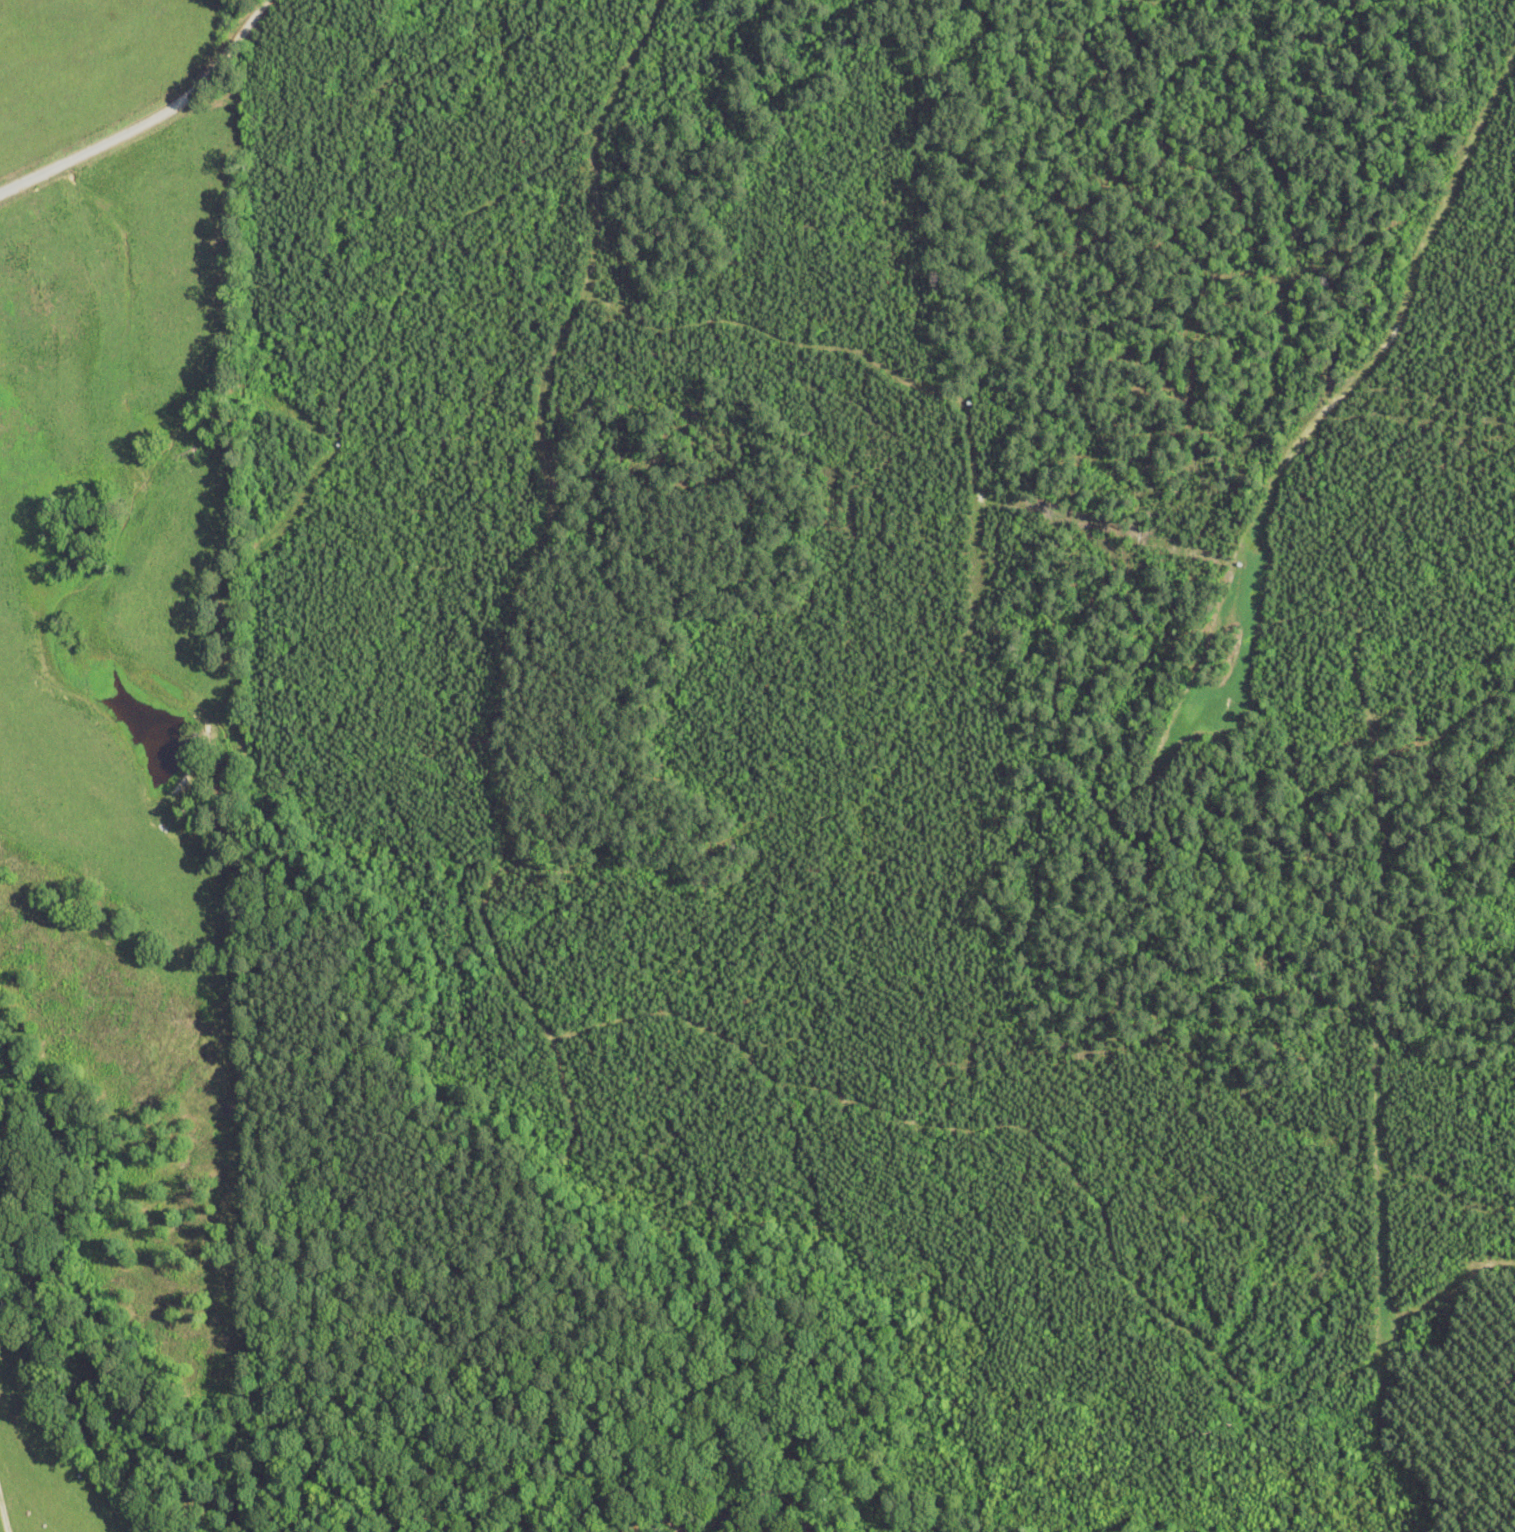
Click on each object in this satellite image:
road: (149, 119)

